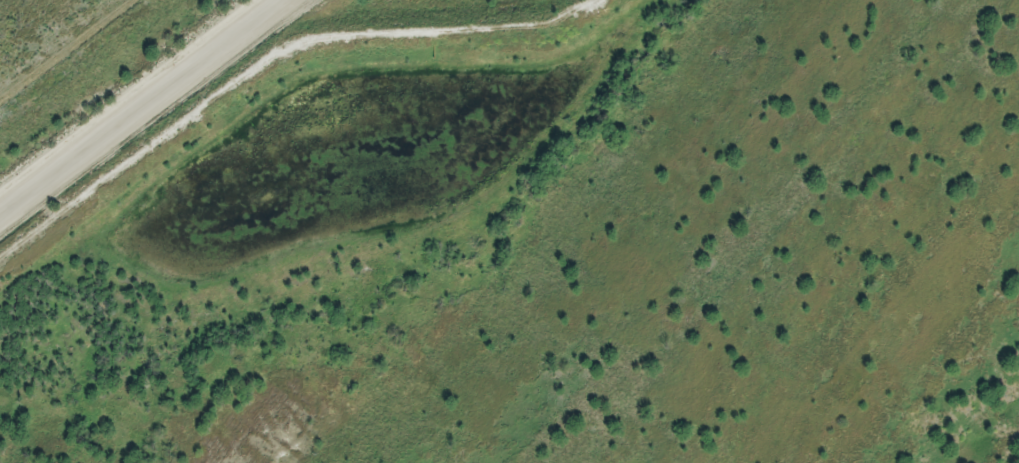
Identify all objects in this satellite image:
road: (137, 102)
quarry: (517, 234)

